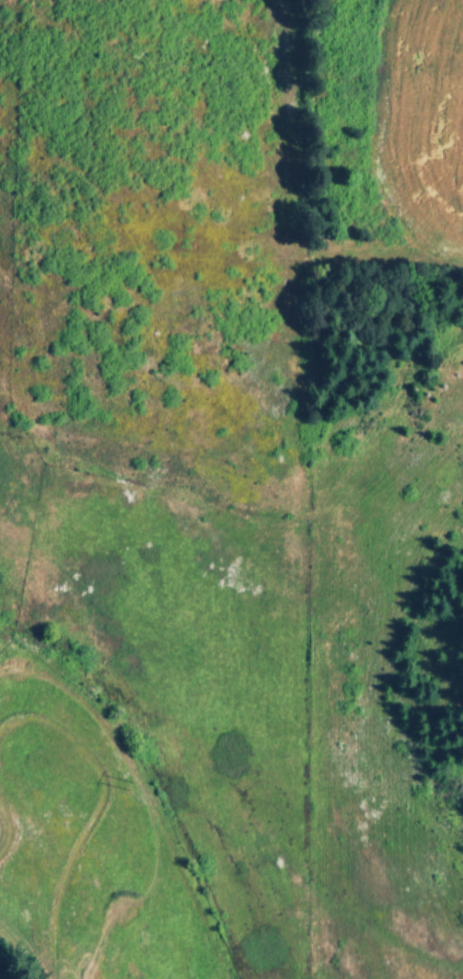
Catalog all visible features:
crop: (232, 487)

